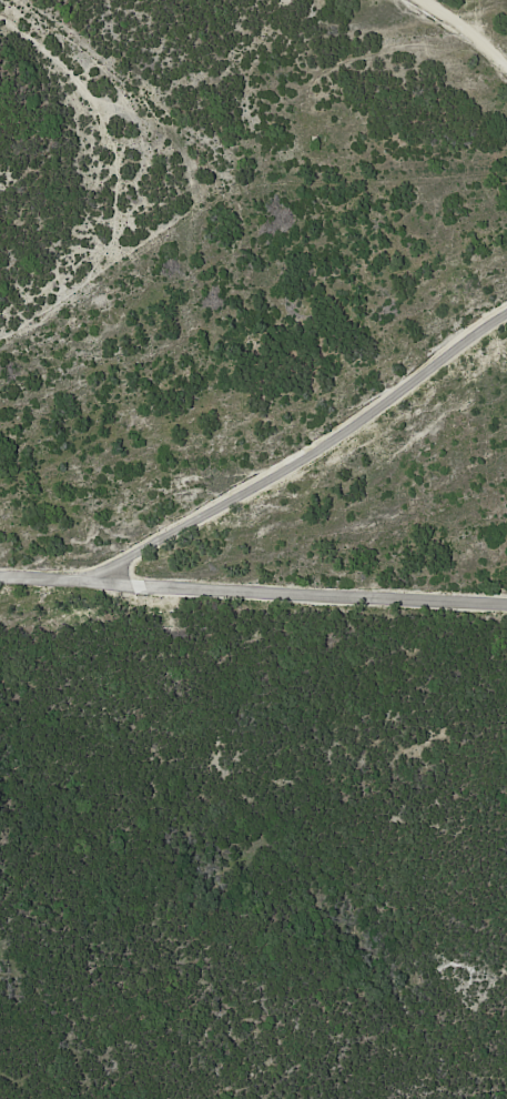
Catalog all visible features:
road: (464, 30)
road: (266, 481)
road: (302, 592)

